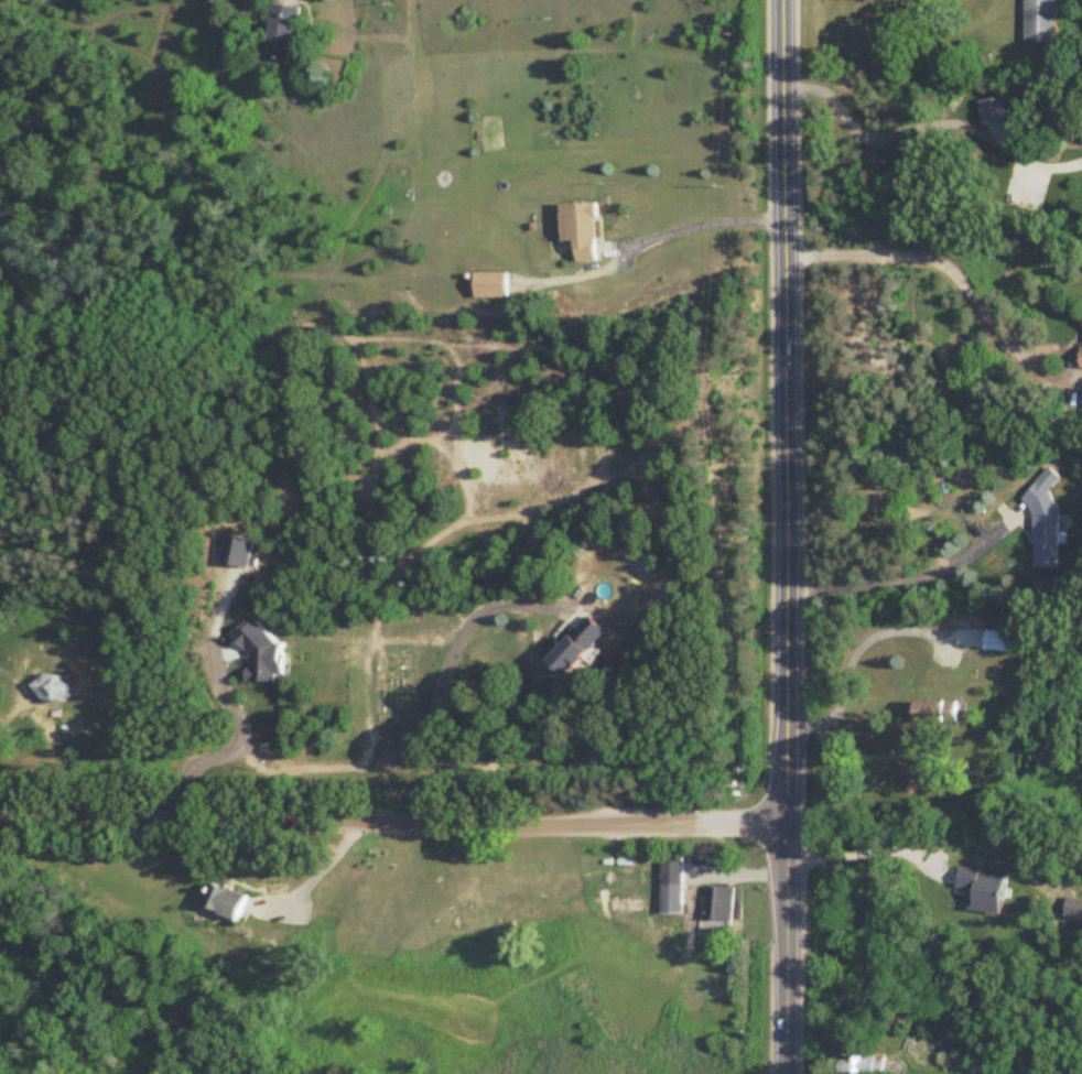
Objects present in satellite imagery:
building: (1040, 21)
building: (283, 32)
road: (927, 123)
building: (580, 230)
road: (706, 234)
road: (933, 259)
building: (491, 285)
road: (783, 411)
building: (1046, 520)
road: (902, 582)
building: (1002, 640)
road: (850, 648)
road: (443, 682)
building: (56, 688)
building: (938, 713)
road: (392, 818)
road: (869, 861)
road: (314, 872)
building: (671, 888)
building: (229, 904)
building: (718, 904)
road: (785, 948)
building: (711, 985)
building: (862, 1065)

